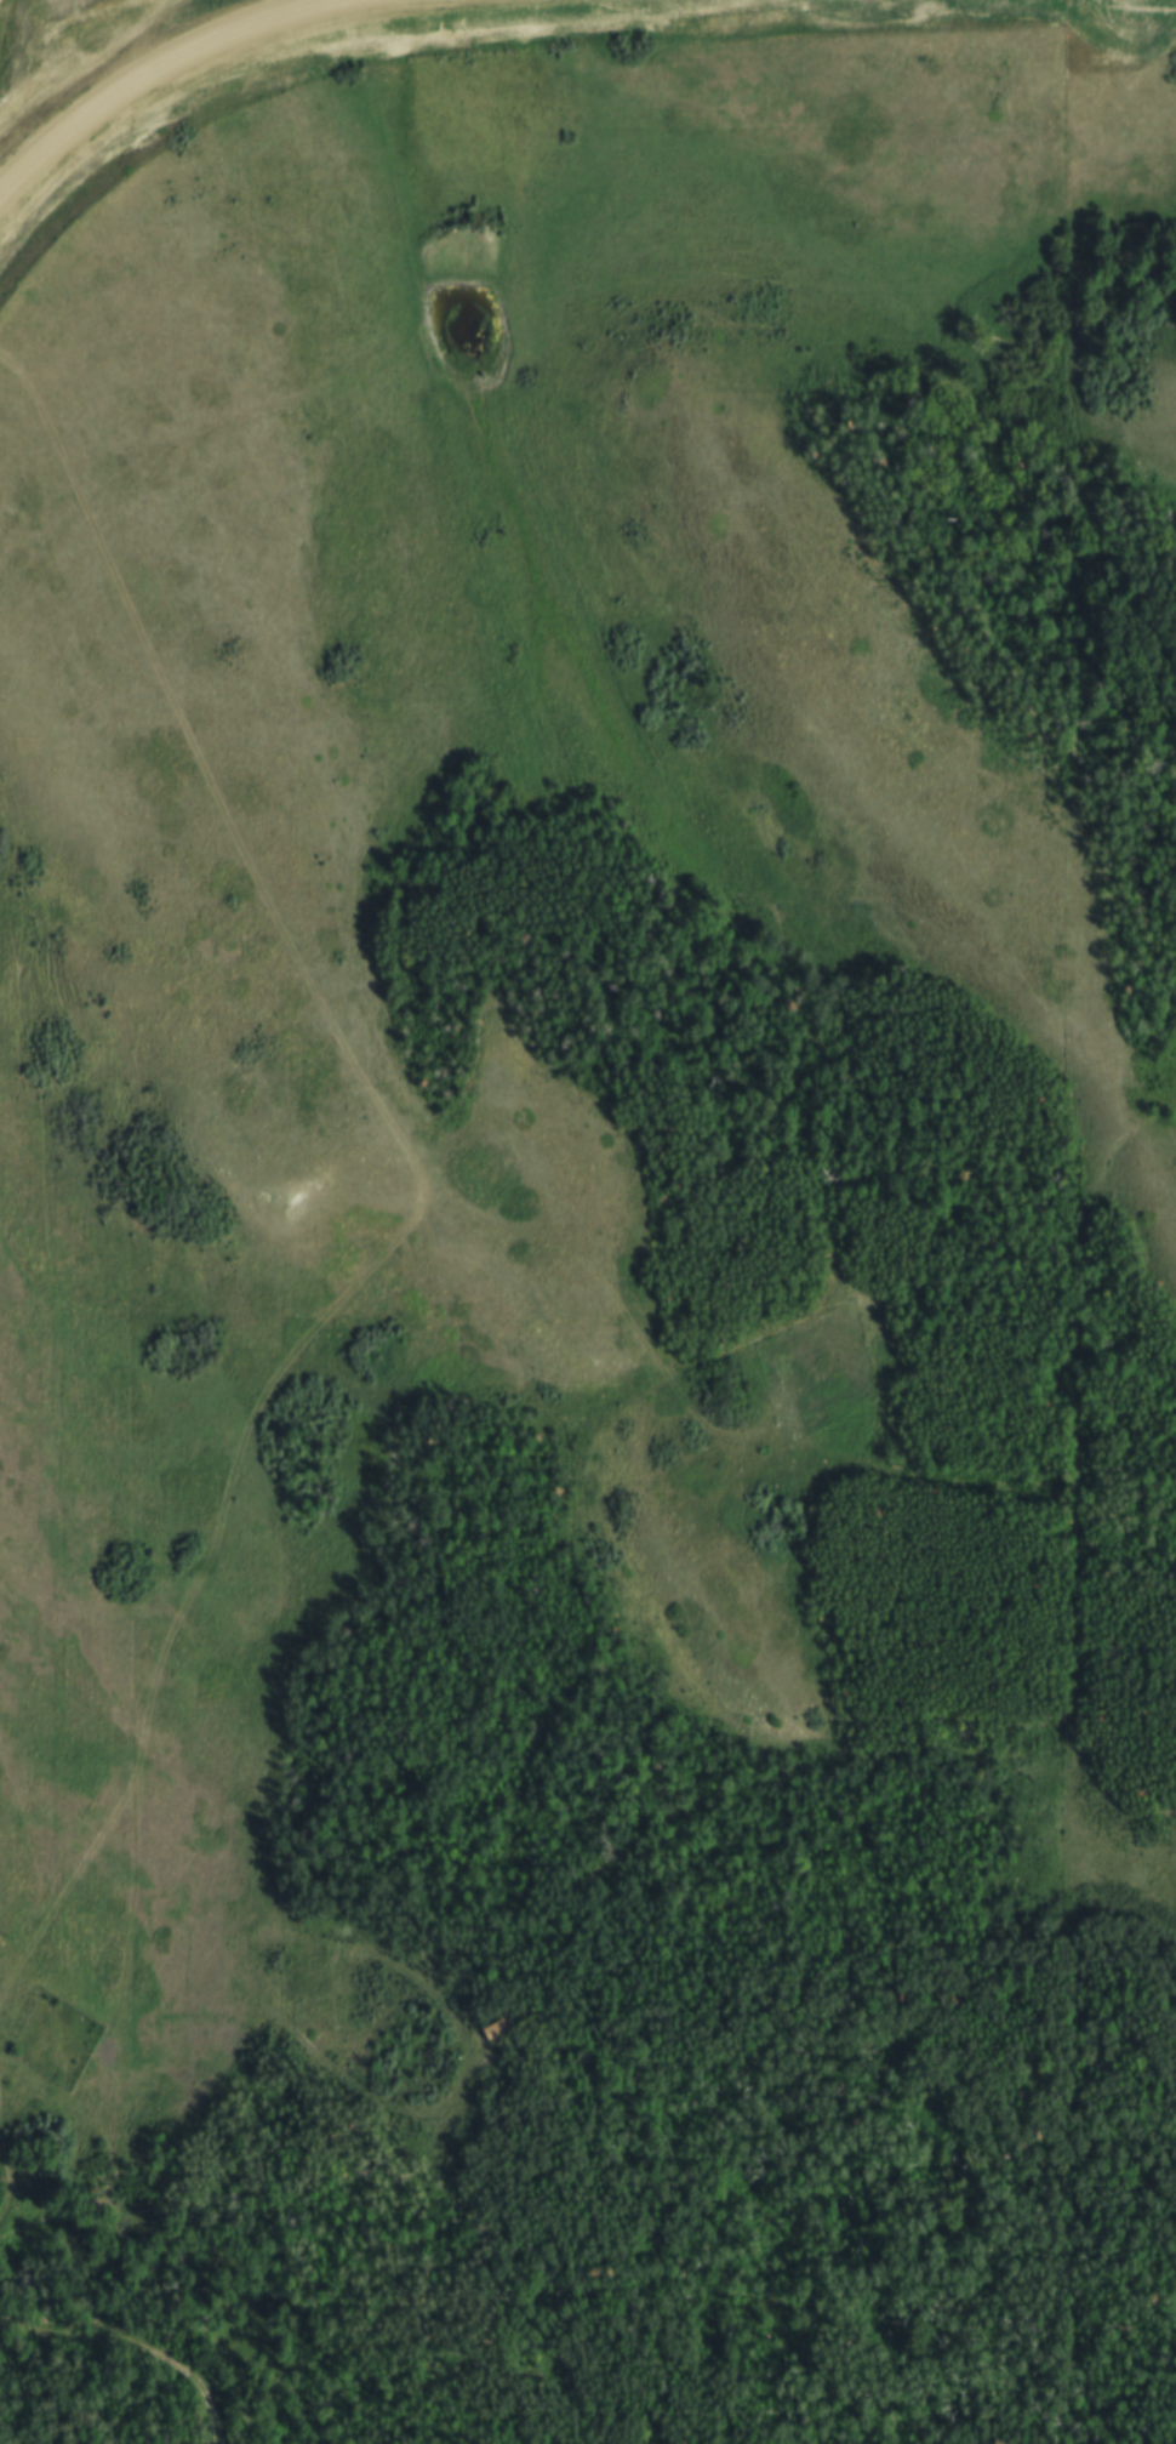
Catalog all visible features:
road: (160, 73)
building: (492, 2028)

